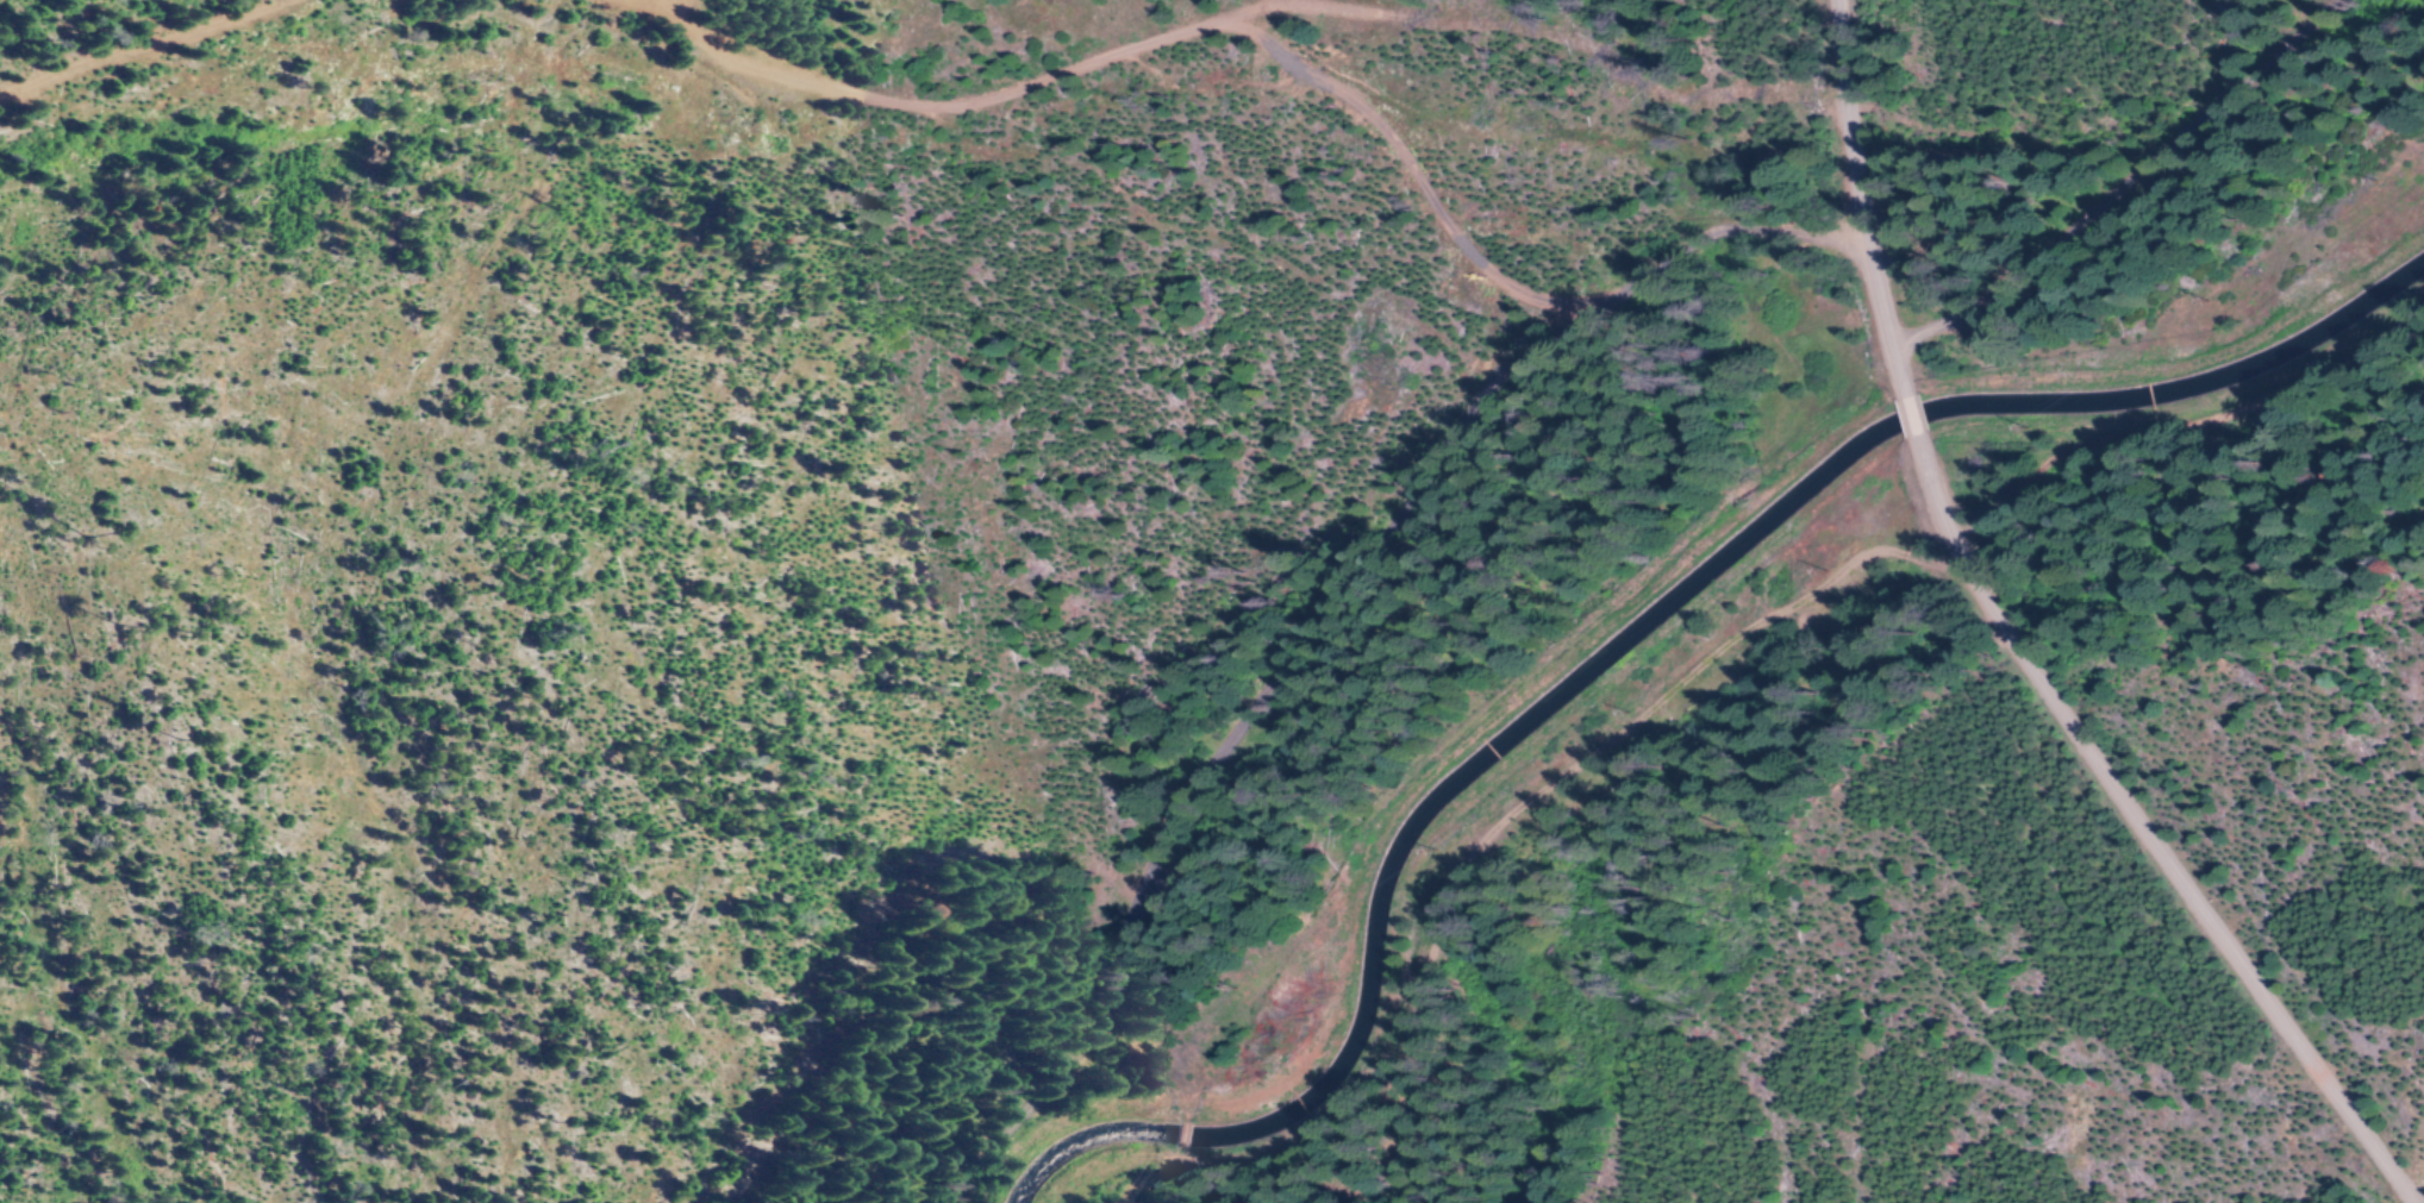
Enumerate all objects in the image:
road: (1224, 12)
road: (149, 37)
road: (2019, 647)

